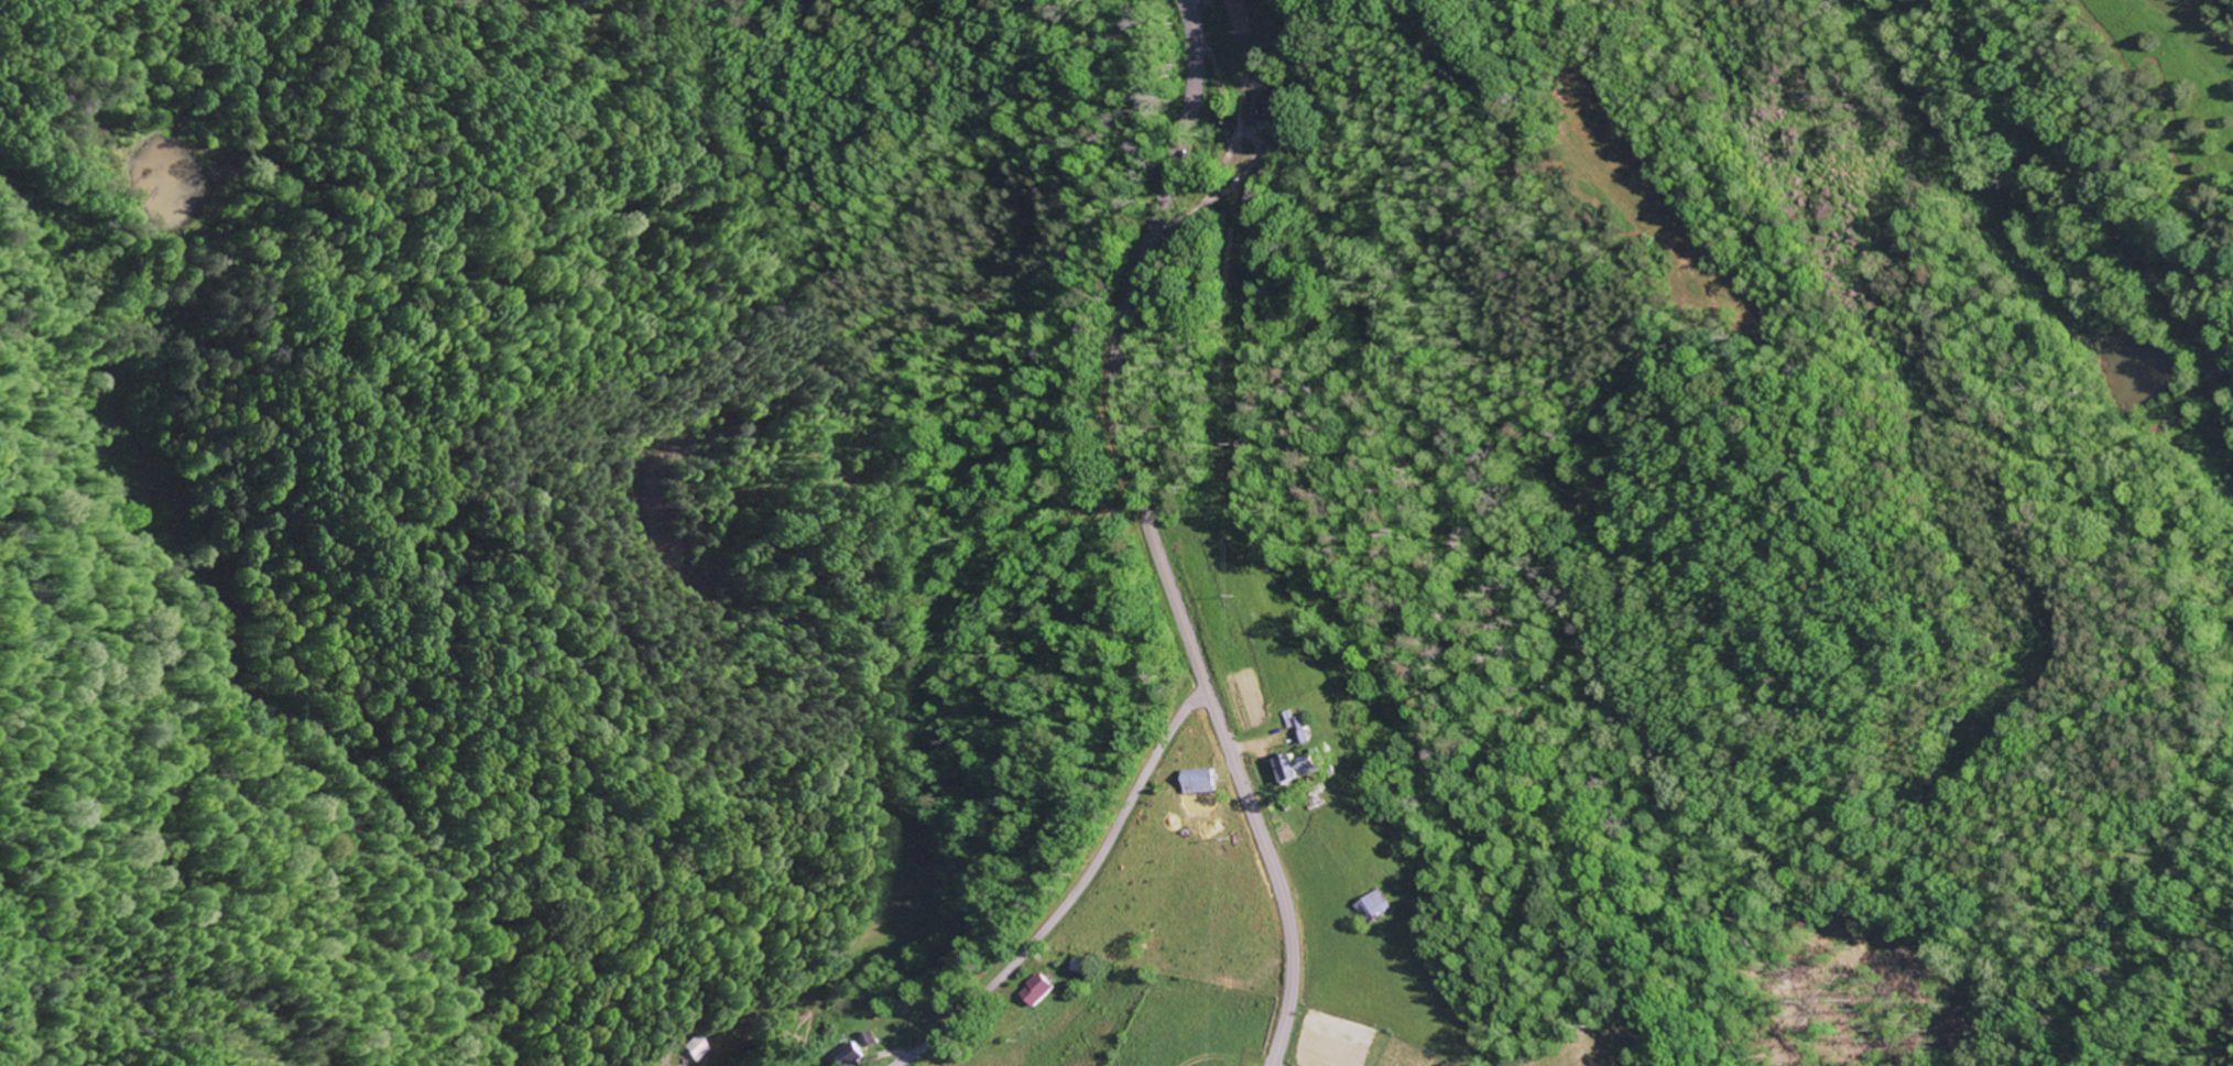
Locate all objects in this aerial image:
building: (1272, 108)
road: (1156, 534)
building: (1293, 770)
building: (1198, 784)
road: (1075, 891)
building: (1375, 910)
building: (1038, 991)
building: (700, 1049)
building: (851, 1057)

